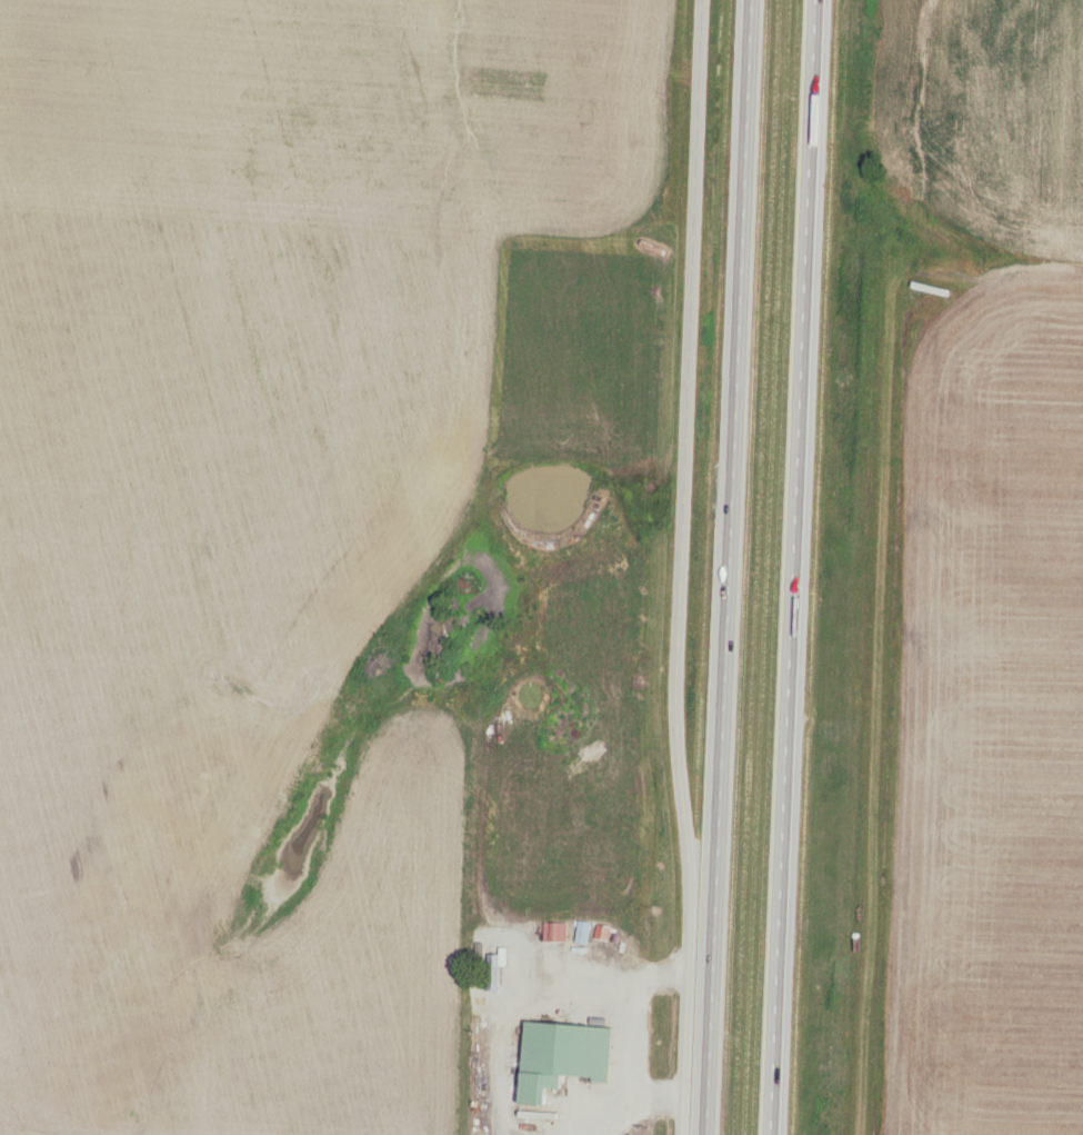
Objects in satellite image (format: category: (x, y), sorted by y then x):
road: (646, 567)
road: (730, 567)
road: (795, 567)
building: (564, 1058)

